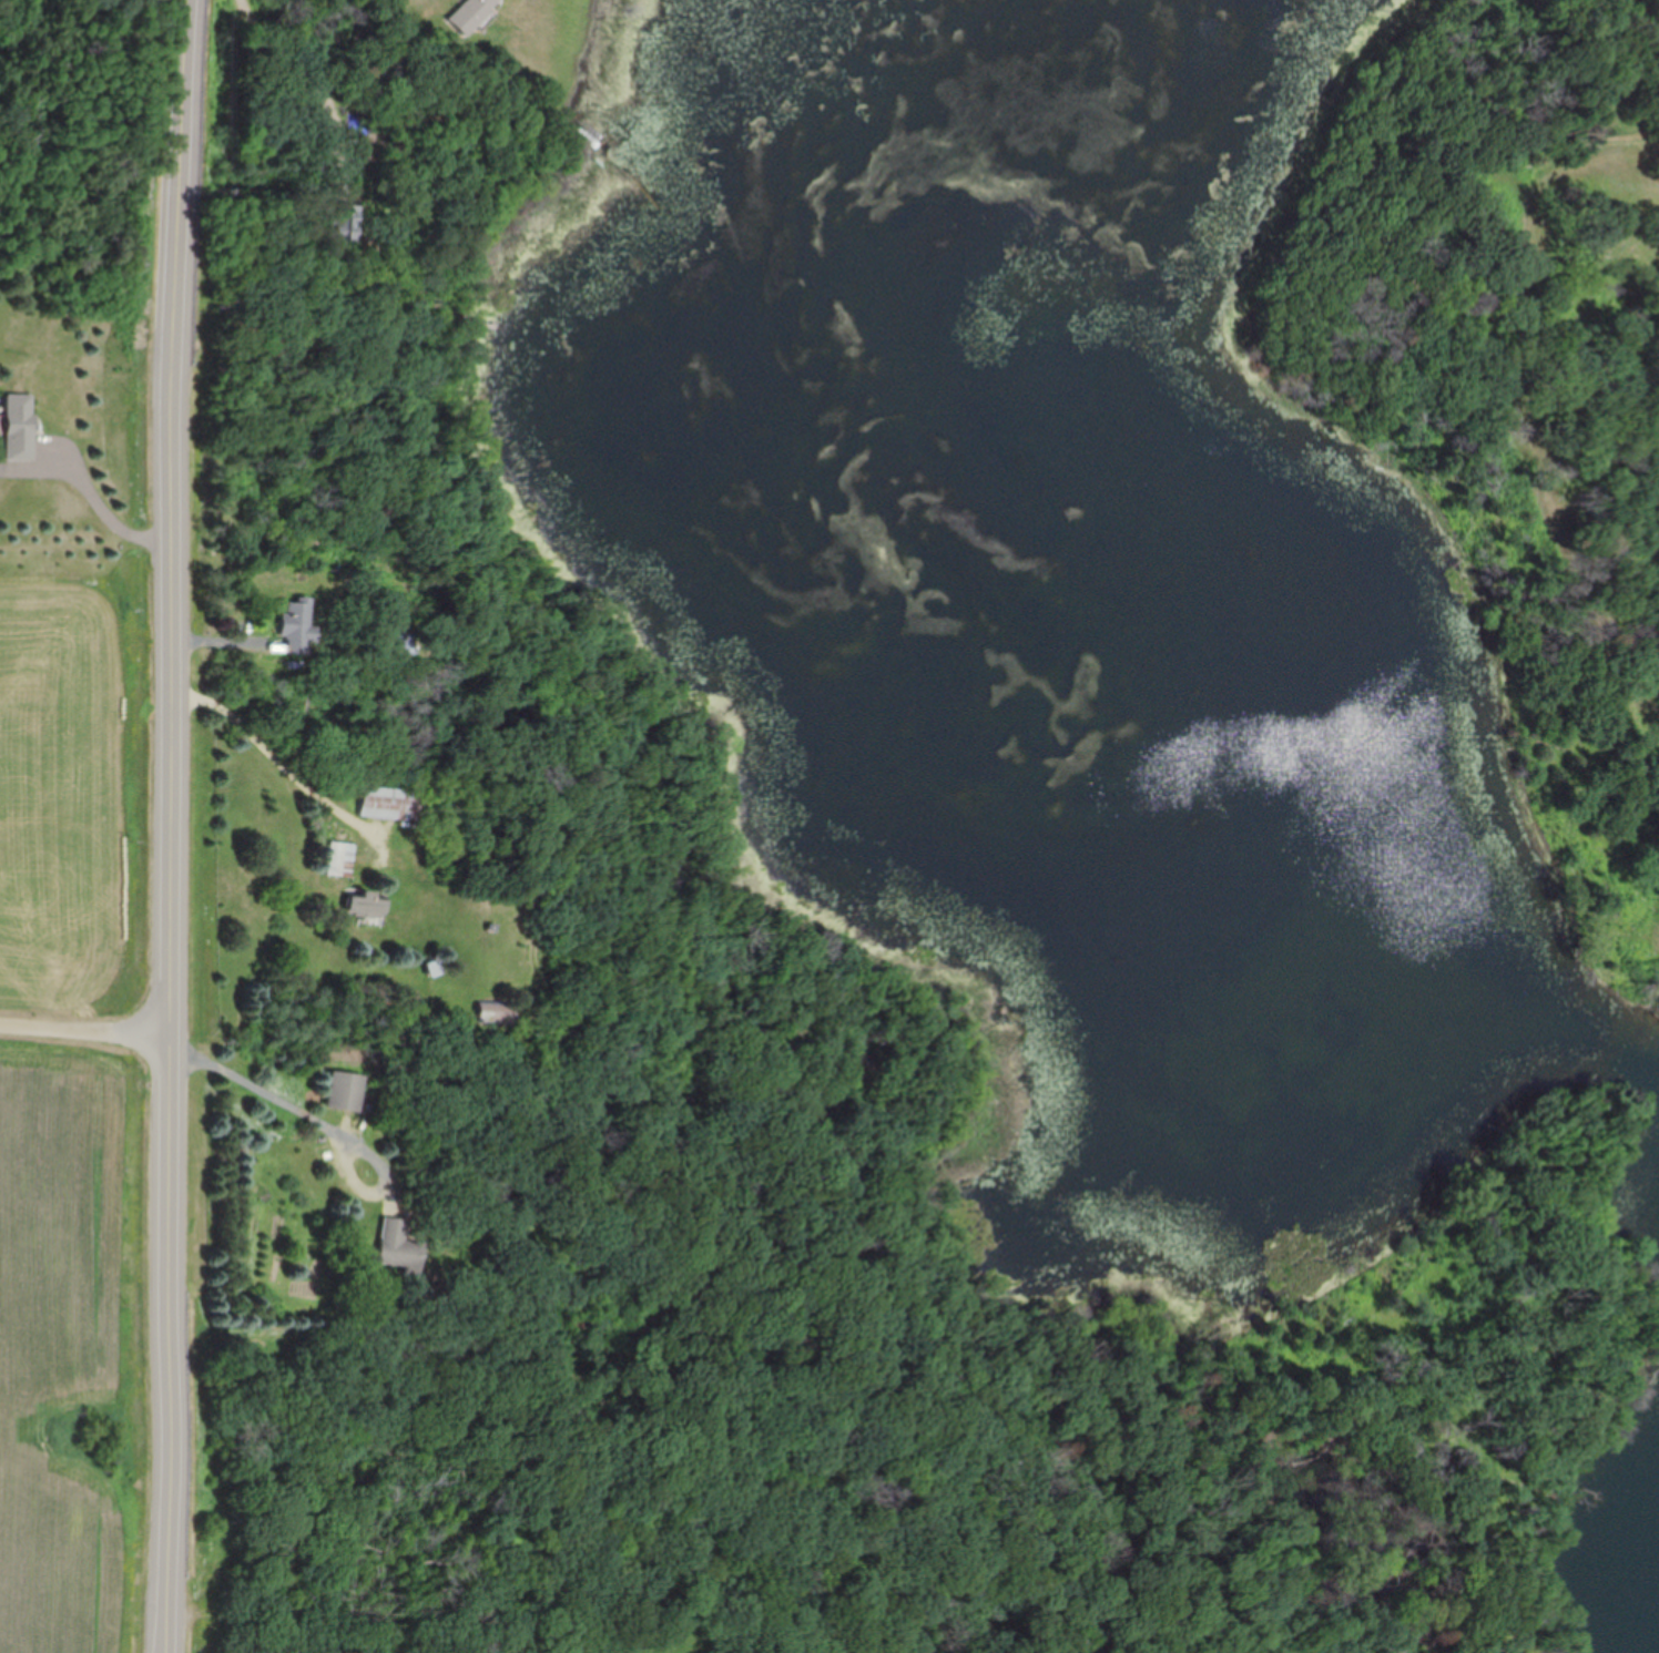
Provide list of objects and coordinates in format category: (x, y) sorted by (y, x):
building: (472, 13)
road: (315, 88)
building: (347, 223)
building: (21, 425)
building: (487, 475)
road: (101, 507)
building: (296, 623)
building: (399, 643)
road: (285, 774)
building: (385, 803)
road: (172, 826)
building: (342, 858)
building: (363, 905)
building: (493, 1013)
road: (85, 1032)
building: (344, 1091)
road: (262, 1092)
road: (385, 1172)
building: (394, 1244)

